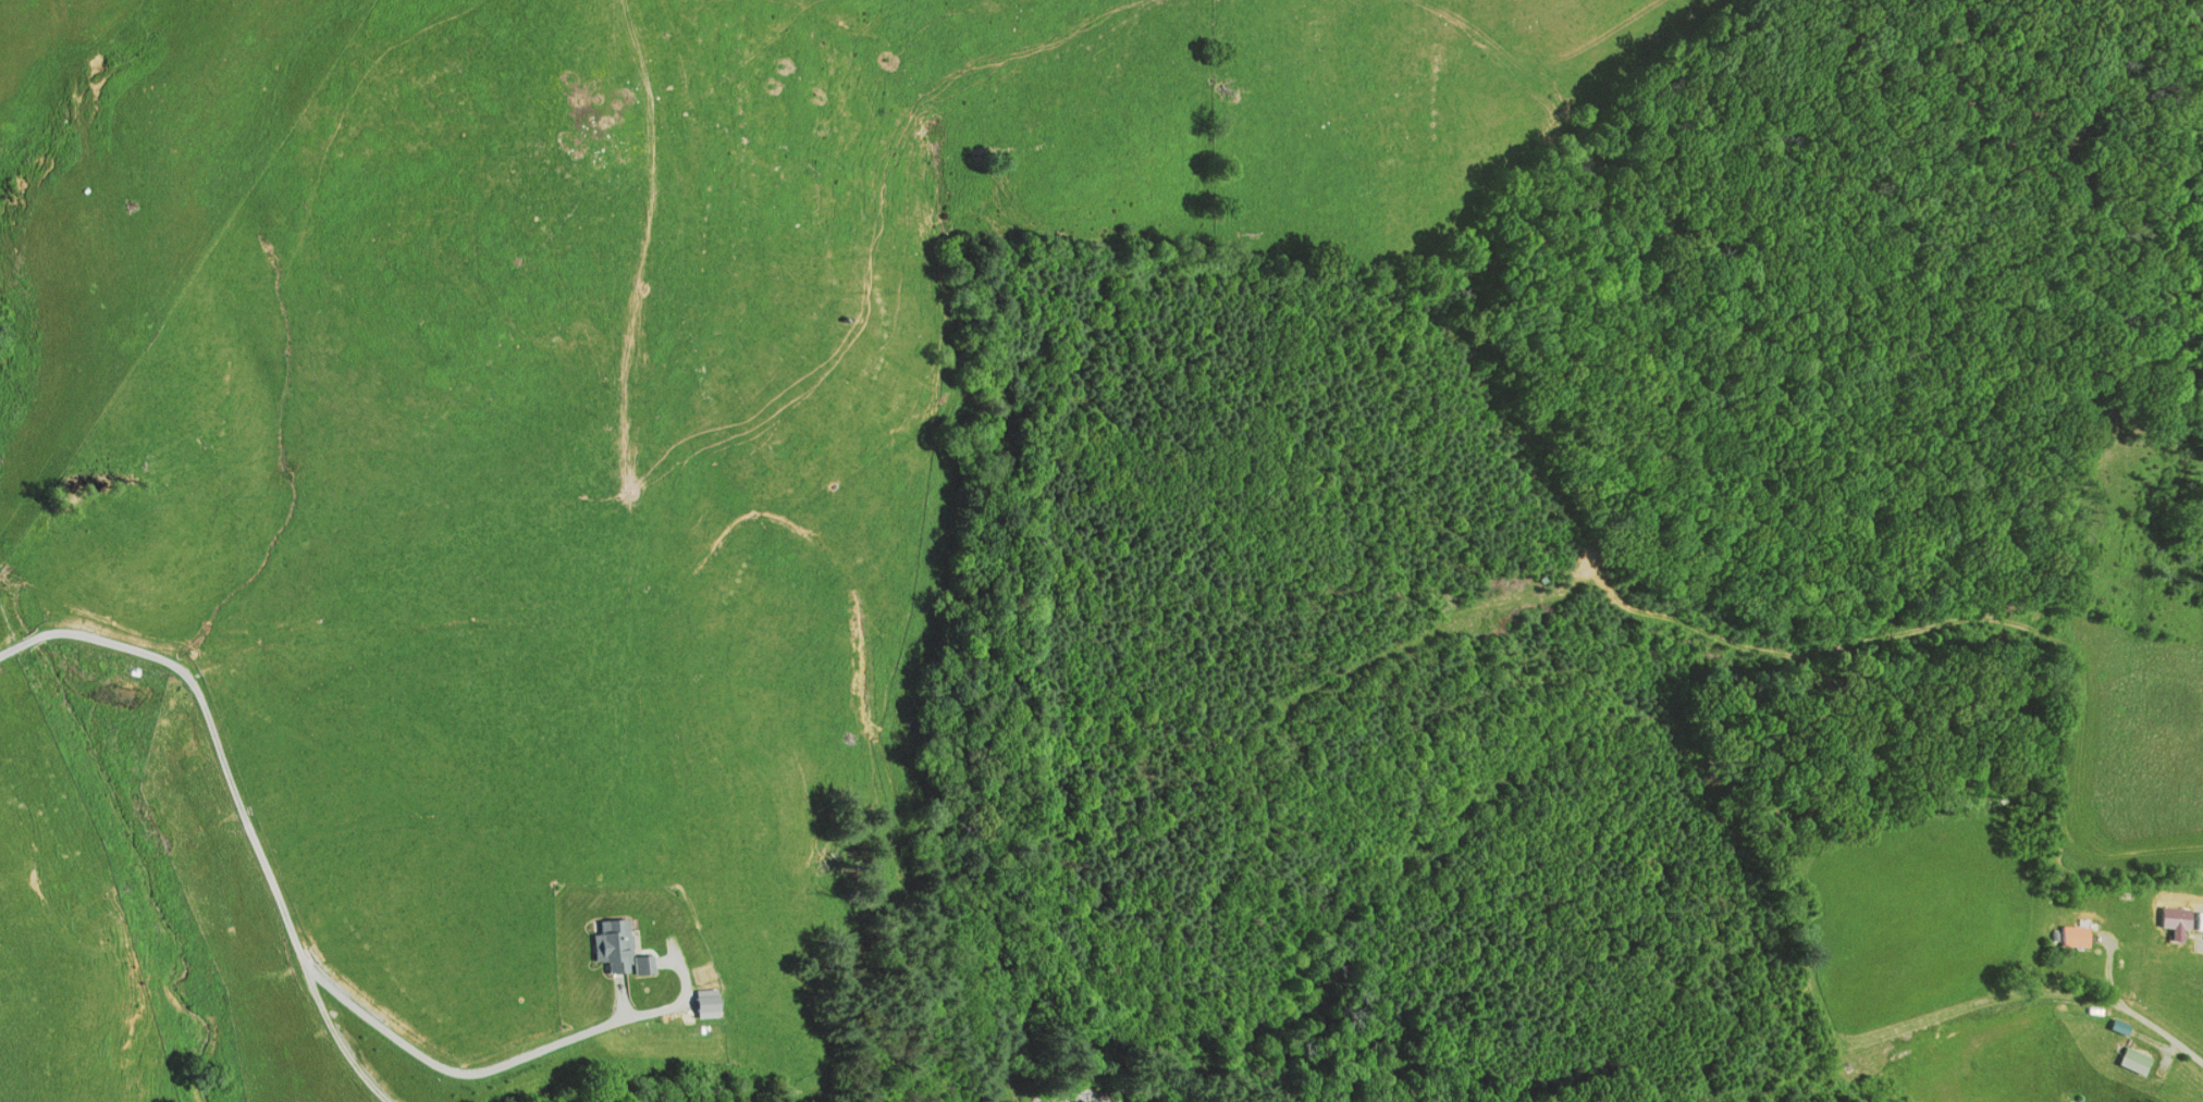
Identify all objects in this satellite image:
road: (237, 802)
building: (2070, 936)
building: (630, 950)
building: (721, 1006)
road: (1934, 1014)
building: (2130, 1060)
river: (1098, 1082)

